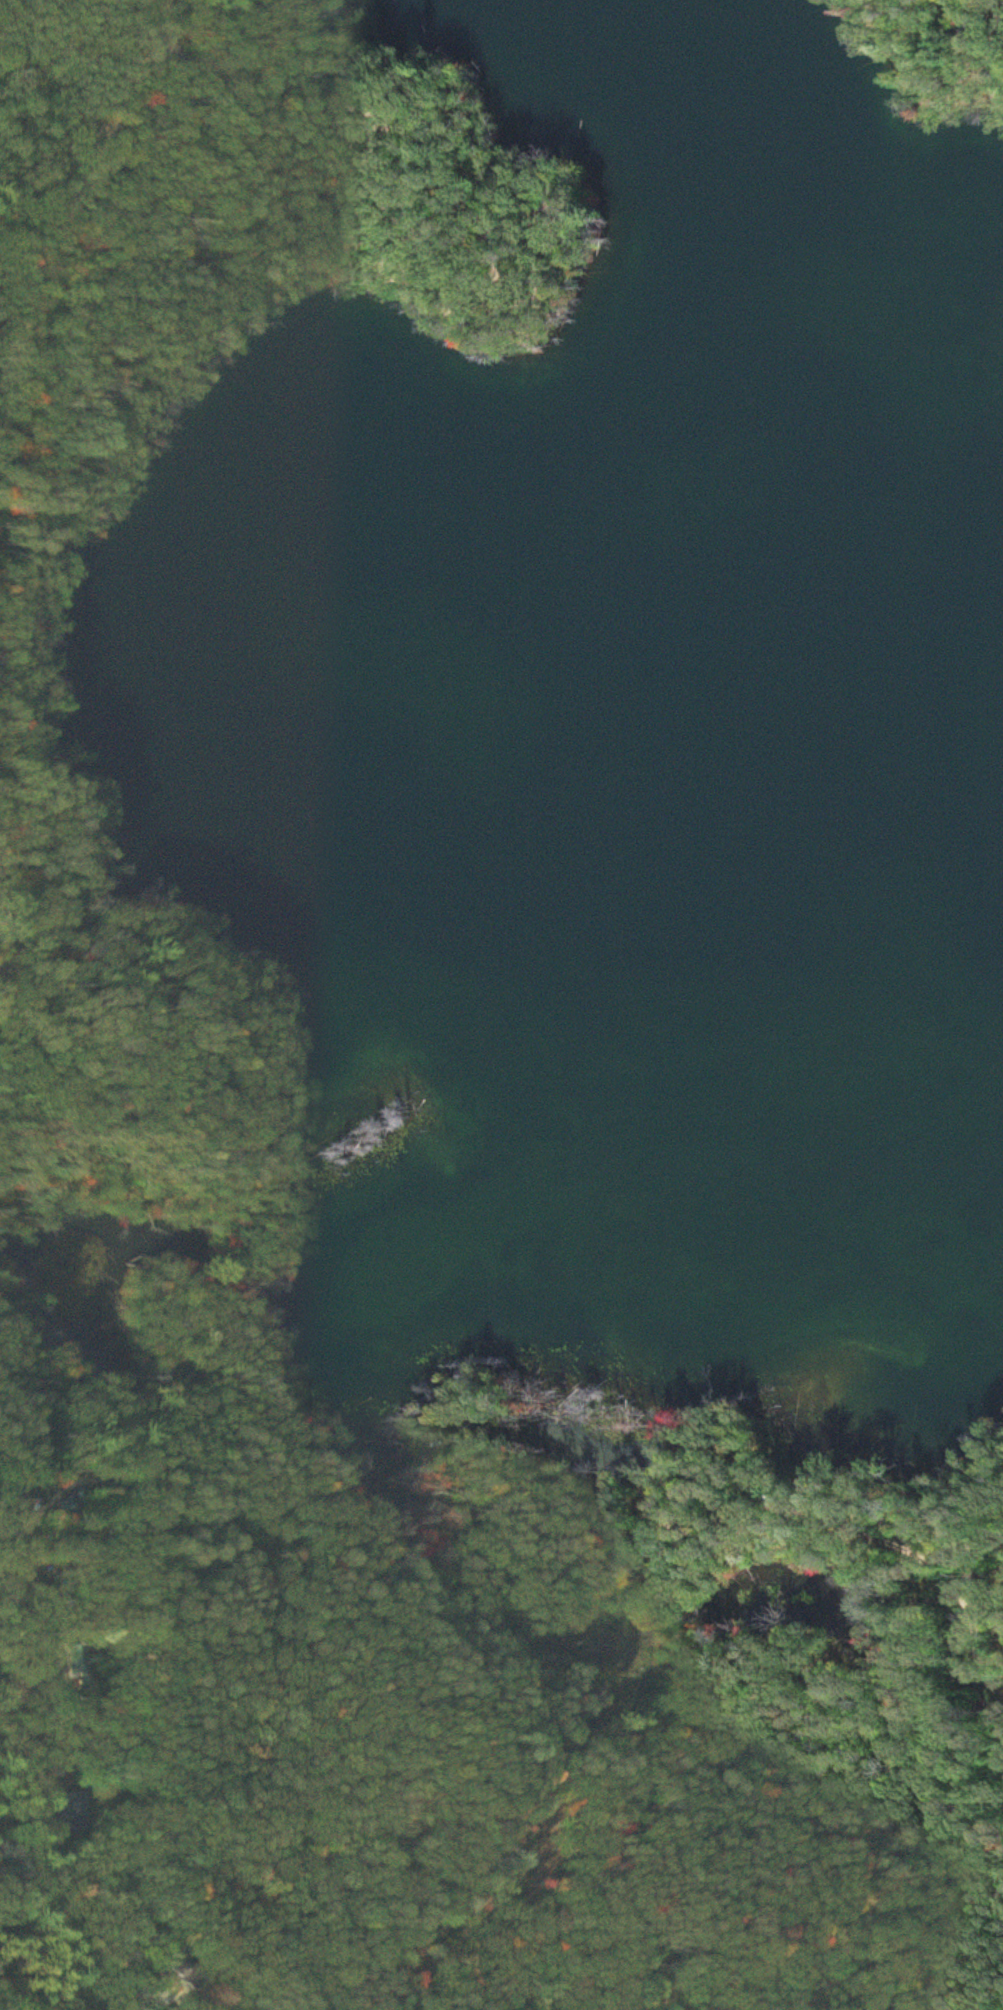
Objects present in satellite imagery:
road: (72, 217)
road: (17, 917)
road: (152, 1503)

